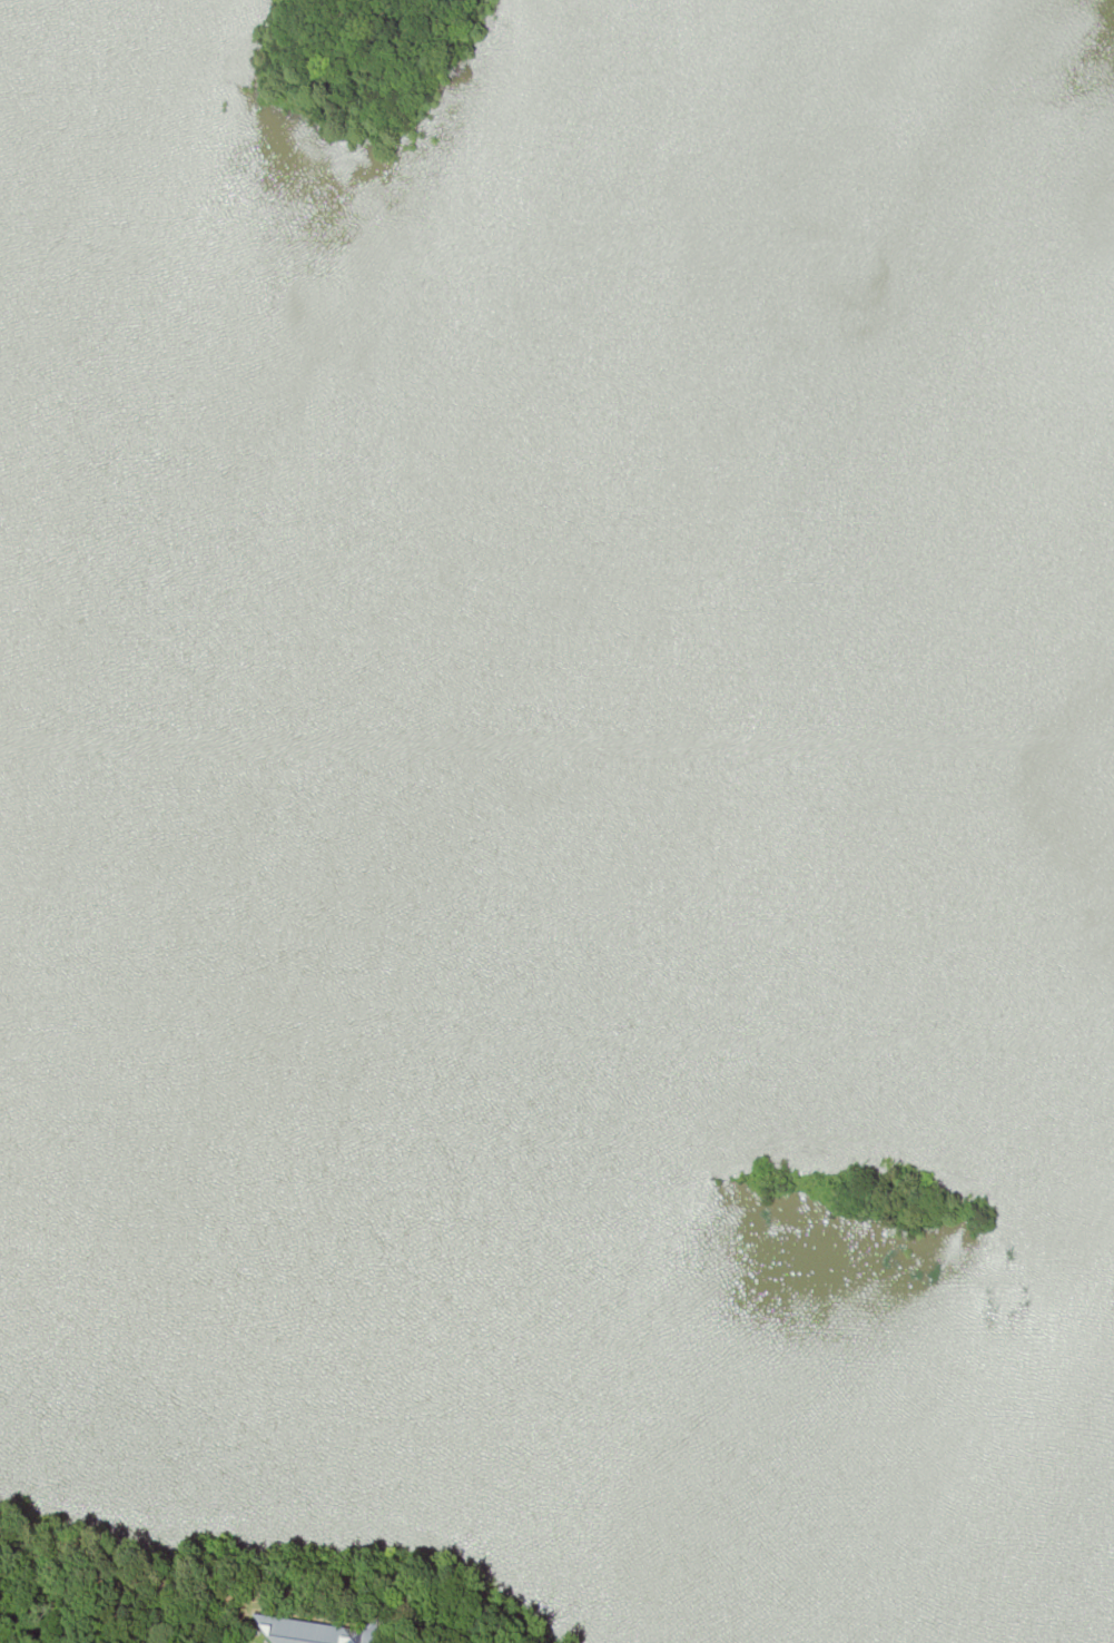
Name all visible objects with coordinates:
river: (574, 1395)
building: (316, 1633)

